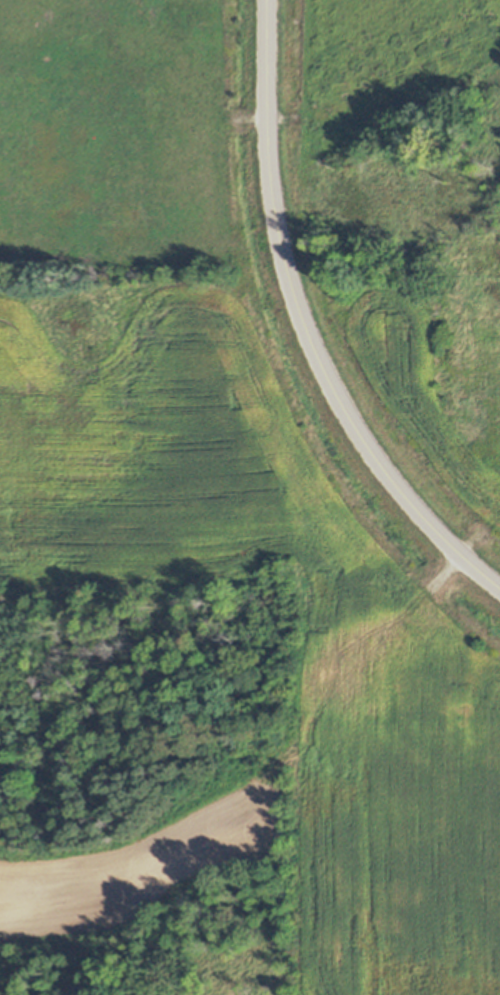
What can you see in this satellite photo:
road: (305, 325)

